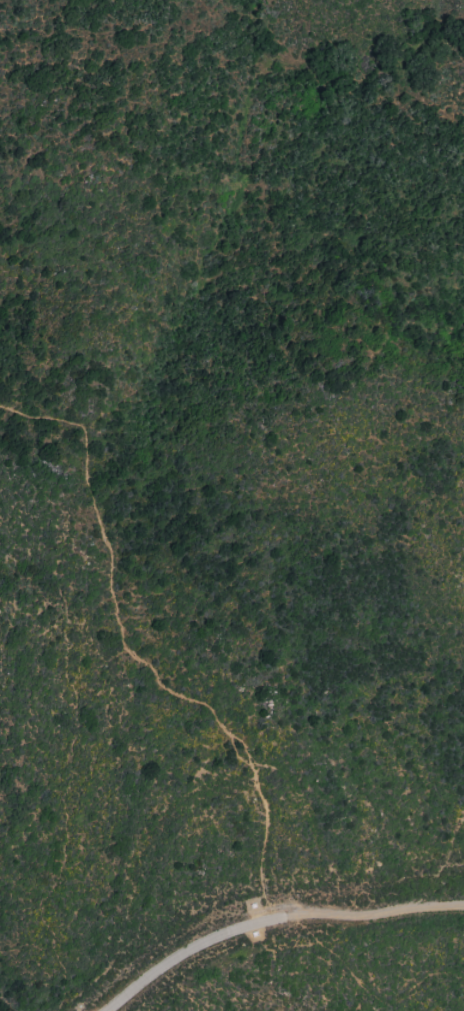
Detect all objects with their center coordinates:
road: (137, 654)
road: (64, 805)
road: (373, 911)
road: (185, 950)

